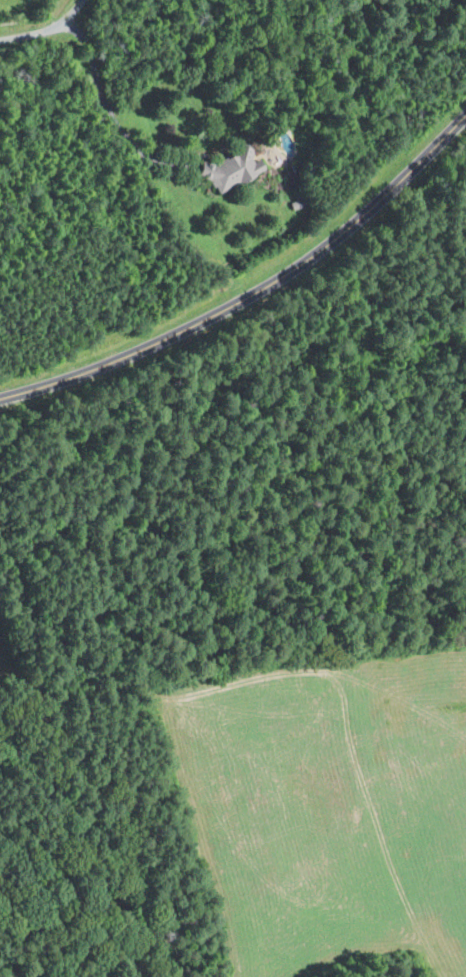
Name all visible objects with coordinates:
road: (48, 33)
road: (104, 104)
building: (229, 169)
road: (251, 283)

